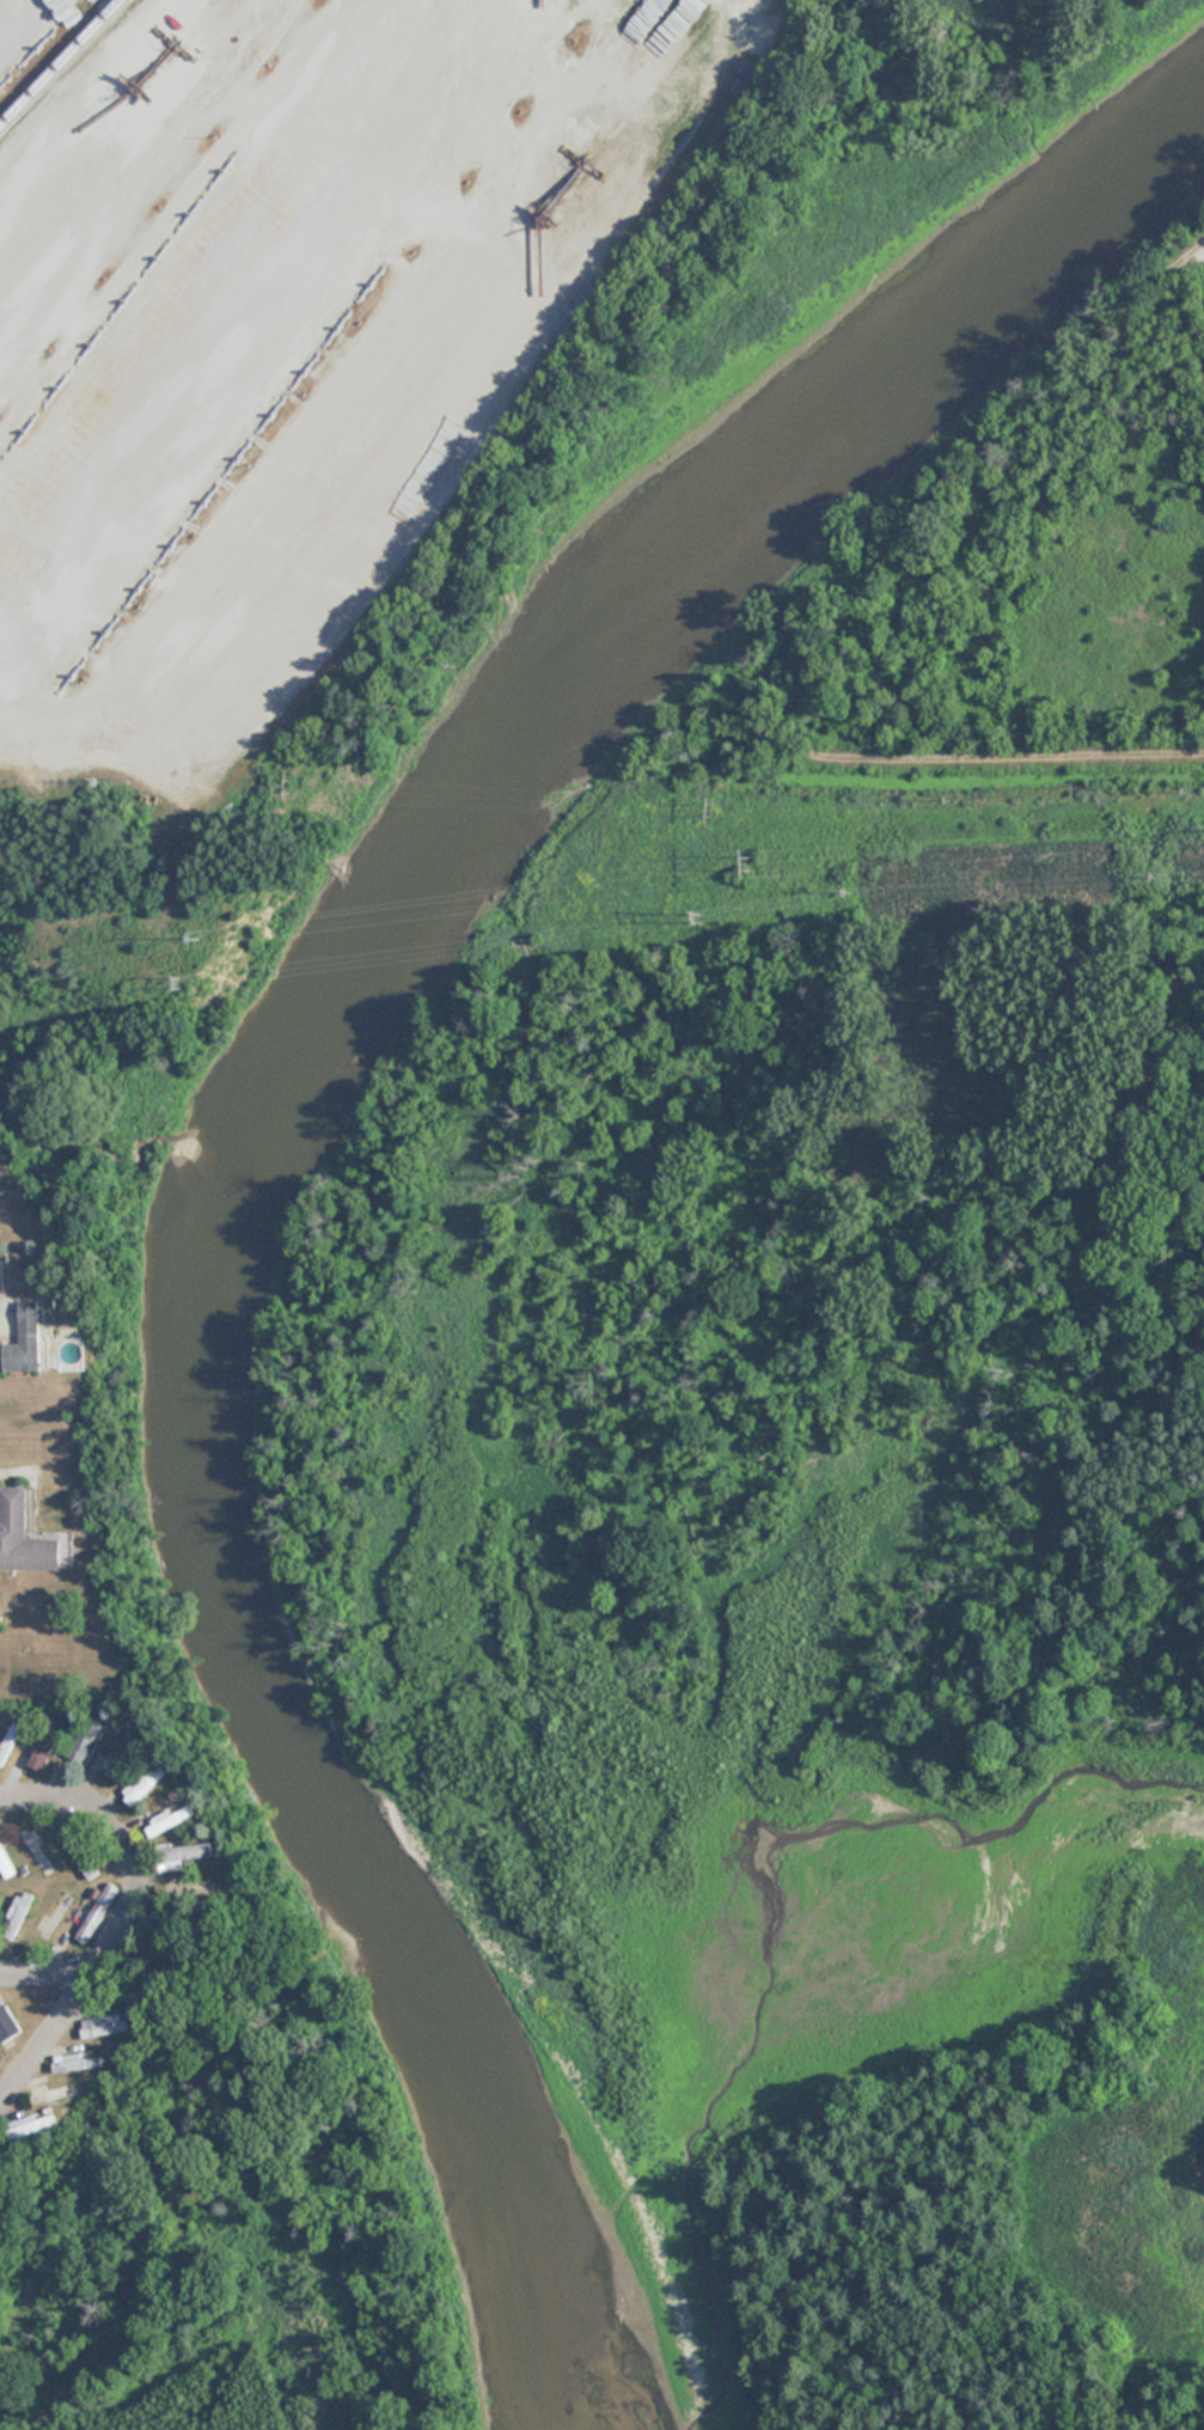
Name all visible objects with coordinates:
railway: (59, 61)
power tower: (750, 865)
power tower: (216, 940)
river: (281, 1138)
building: (26, 1339)
building: (26, 1537)
building: (93, 1736)
building: (10, 1738)
building: (41, 1753)
building: (118, 1759)
building: (147, 1782)
building: (173, 1819)
road: (124, 1848)
building: (78, 1852)
building: (36, 1854)
building: (185, 1854)
building: (5, 1864)
building: (191, 1888)
building: (97, 1912)
building: (17, 1915)
building: (54, 1916)
road: (47, 1978)
building: (99, 2026)
building: (8, 2041)
road: (47, 2045)
building: (75, 2062)
building: (31, 2126)

